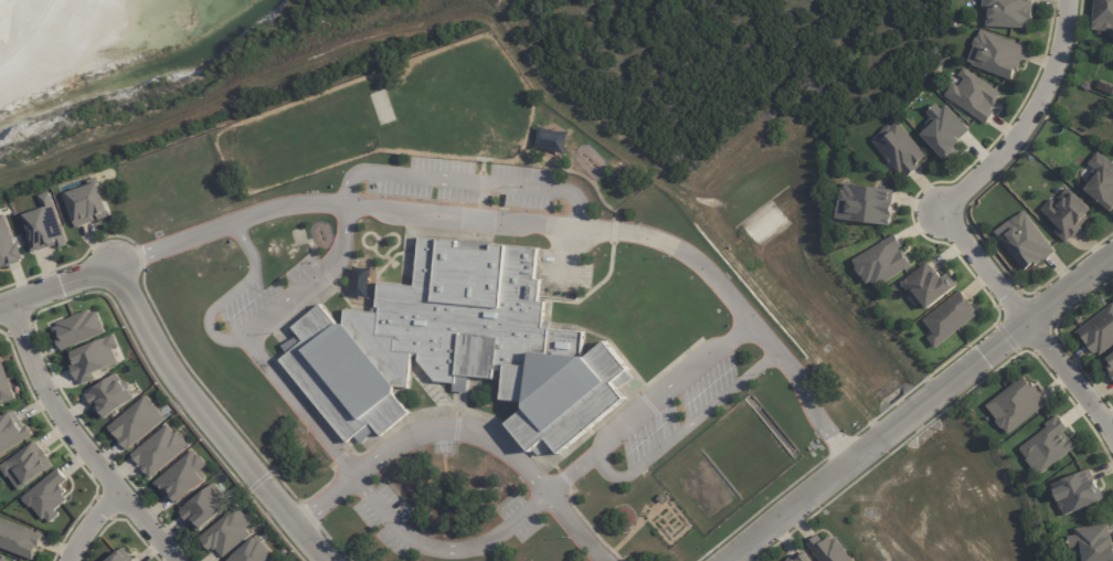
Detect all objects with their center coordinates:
building: (1014, 13)
building: (1105, 15)
quarry: (119, 39)
building: (999, 56)
quarry: (194, 73)
building: (977, 97)
building: (947, 131)
building: (901, 149)
road: (984, 172)
building: (1101, 179)
road: (471, 180)
building: (87, 203)
building: (868, 205)
building: (1070, 213)
building: (46, 225)
road: (530, 225)
building: (1028, 242)
building: (8, 245)
building: (884, 263)
road: (312, 279)
road: (59, 285)
building: (932, 287)
road: (233, 292)
building: (953, 319)
building: (79, 328)
building: (1098, 330)
building: (457, 343)
building: (94, 358)
building: (1110, 360)
building: (1109, 368)
road: (1071, 374)
building: (6, 384)
road: (674, 387)
building: (110, 395)
road: (299, 405)
building: (1016, 405)
road: (918, 409)
road: (215, 419)
building: (137, 422)
road: (685, 427)
building: (12, 431)
road: (465, 432)
road: (79, 440)
building: (1049, 446)
building: (160, 449)
building: (26, 464)
building: (183, 476)
building: (1075, 491)
building: (47, 495)
building: (205, 507)
road: (92, 525)
building: (227, 531)
building: (19, 538)
building: (1092, 543)
road: (477, 546)
building: (829, 549)
building: (256, 552)
building: (123, 555)
building: (805, 558)
building: (4, 559)
building: (793, 560)

